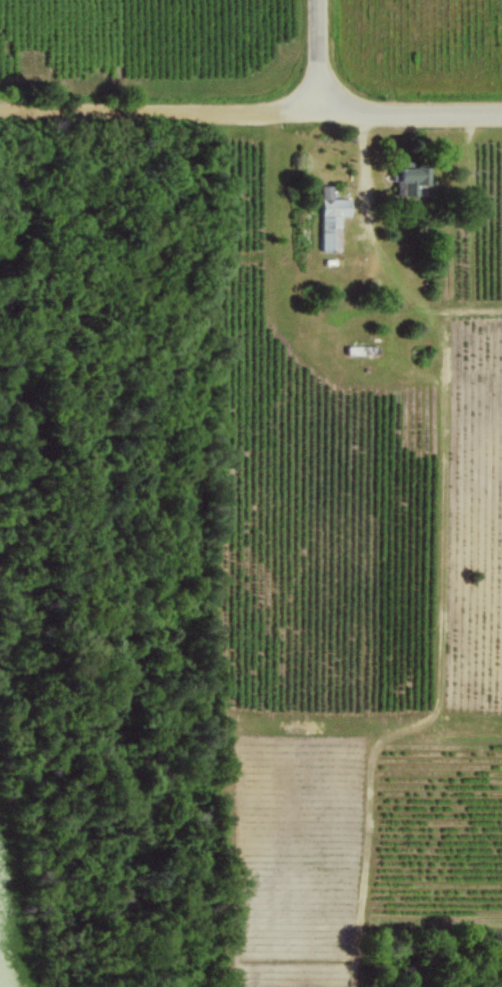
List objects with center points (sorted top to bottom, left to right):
road: (321, 56)
road: (160, 110)
road: (411, 112)
road: (366, 168)
building: (412, 180)
building: (332, 218)
road: (180, 379)

